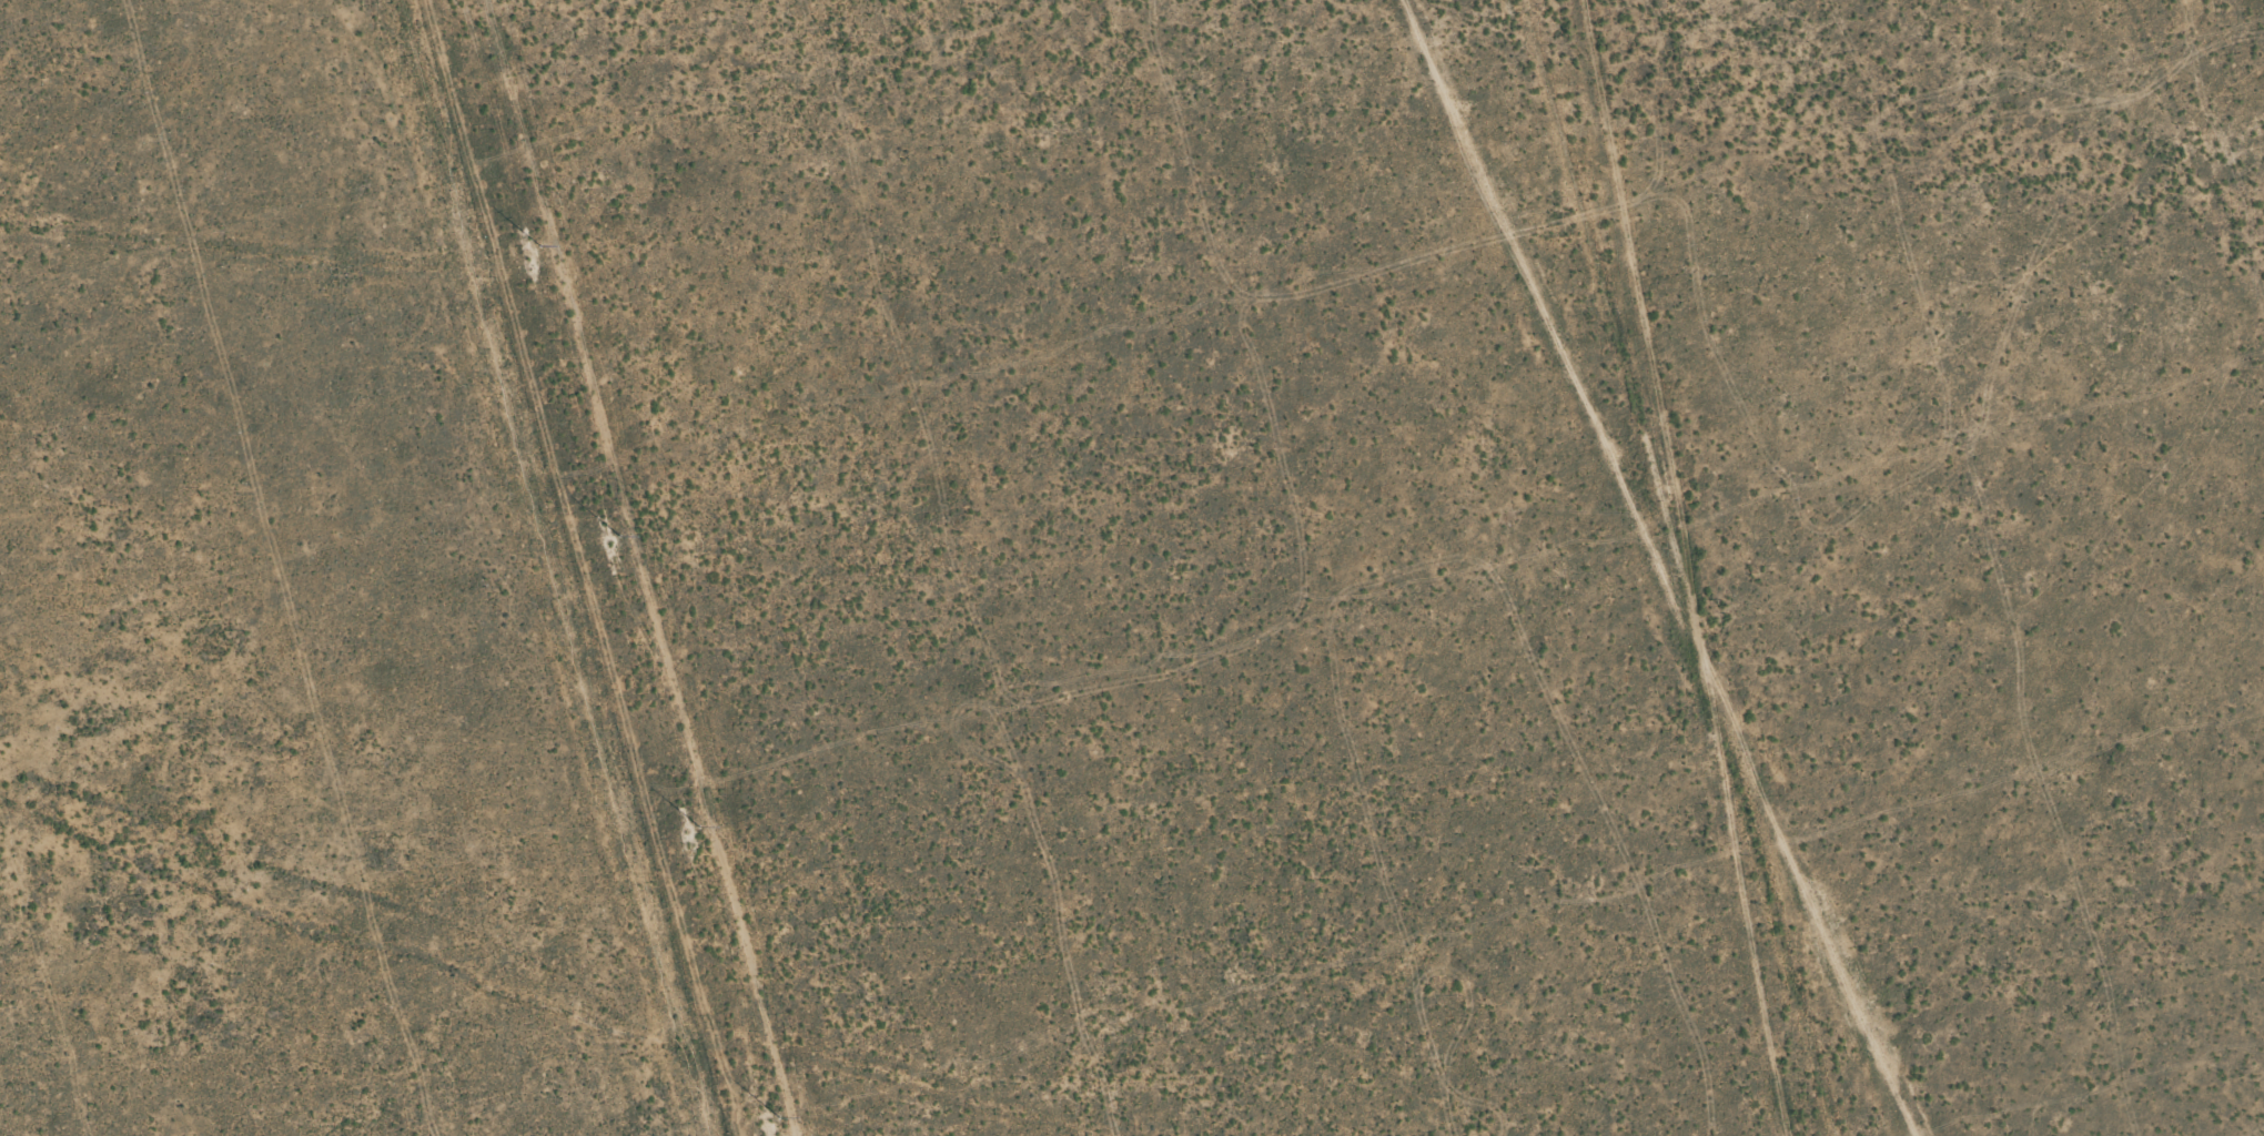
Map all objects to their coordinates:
power tower: (537, 246)
power tower: (616, 536)
power tower: (696, 829)
power tower: (776, 1118)

